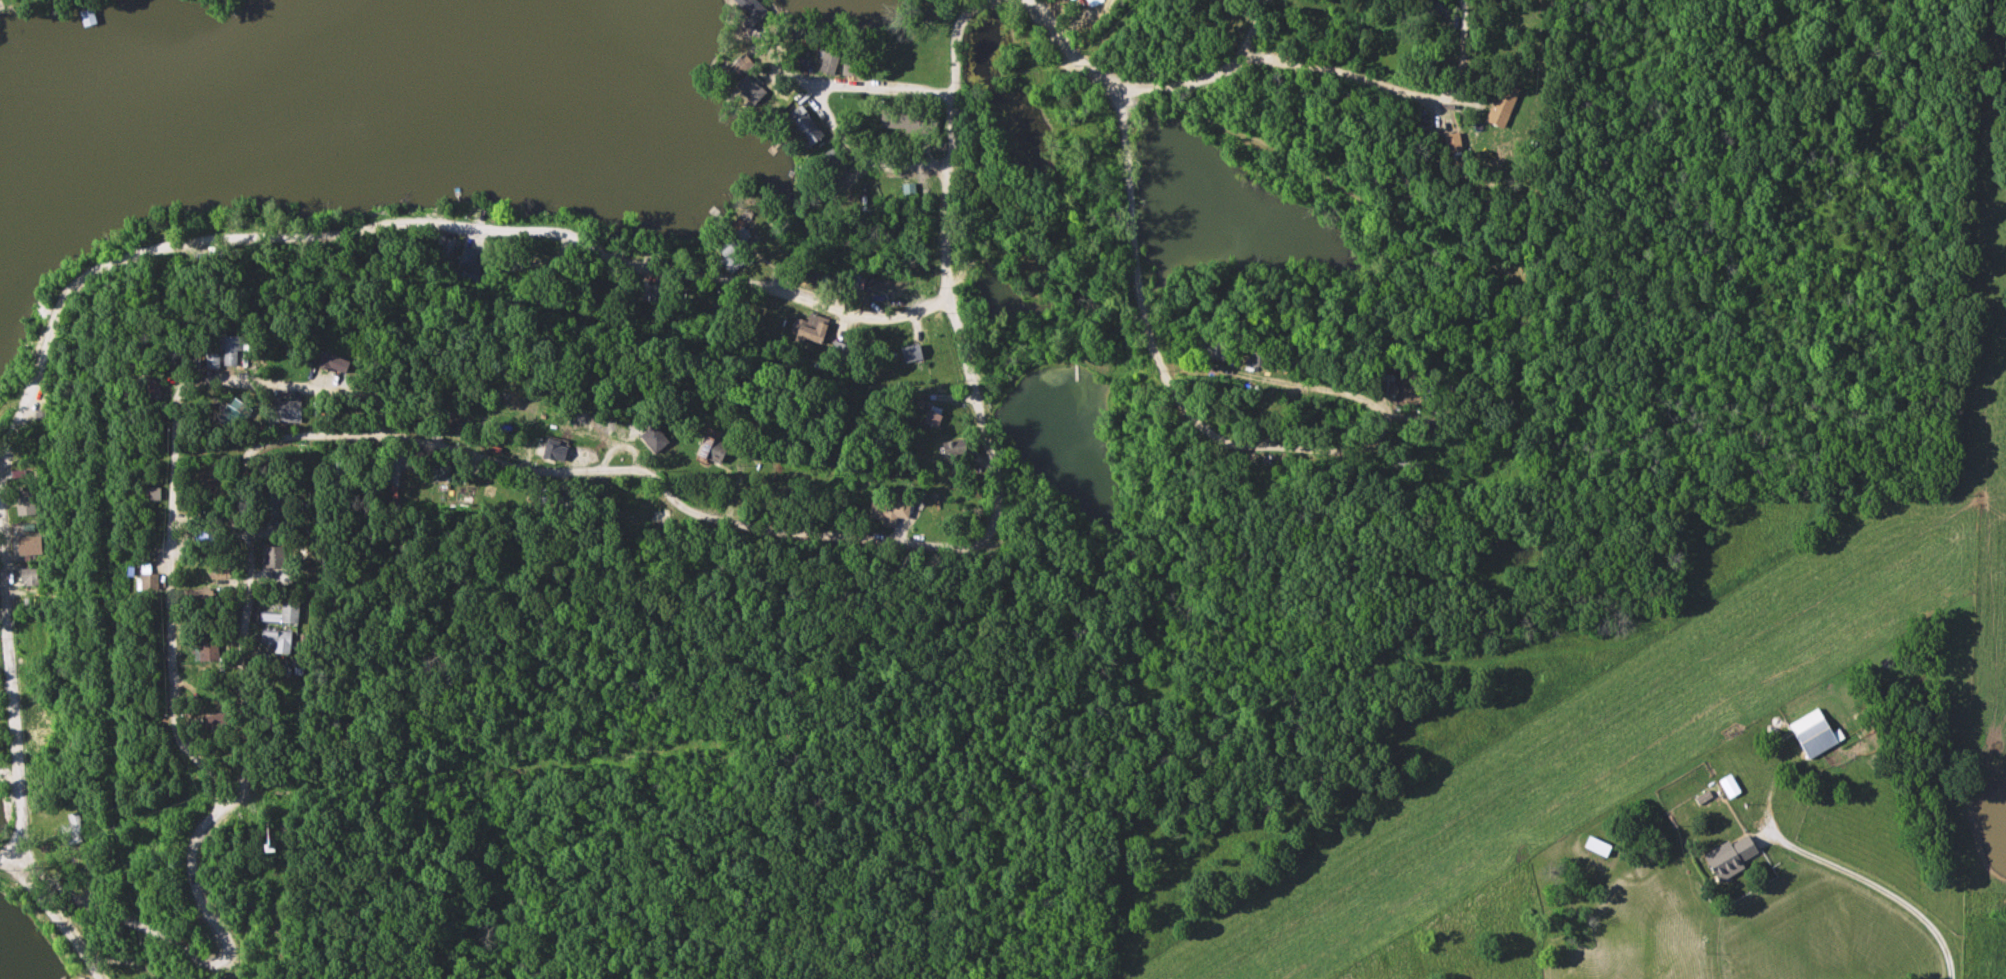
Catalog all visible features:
building: (1094, 0)
building: (1498, 0)
building: (753, 7)
building: (1432, 7)
building: (89, 18)
road: (1262, 30)
road: (1467, 51)
building: (831, 60)
road: (1288, 63)
building: (855, 64)
building: (741, 67)
road: (858, 87)
building: (753, 90)
building: (1505, 105)
building: (910, 121)
building: (808, 127)
road: (867, 160)
building: (832, 168)
road: (1137, 194)
road: (553, 232)
road: (306, 240)
road: (947, 254)
building: (215, 255)
road: (755, 285)
building: (651, 293)
building: (815, 333)
building: (938, 348)
building: (1213, 349)
building: (237, 350)
building: (914, 353)
building: (841, 354)
building: (1261, 359)
building: (215, 362)
building: (336, 365)
road: (1202, 370)
road: (1272, 380)
building: (153, 389)
road: (425, 401)
building: (286, 413)
building: (428, 418)
building: (936, 419)
building: (463, 429)
building: (657, 439)
building: (500, 440)
road: (449, 449)
building: (558, 450)
road: (1340, 450)
building: (716, 451)
building: (751, 451)
building: (579, 499)
building: (28, 504)
building: (271, 504)
building: (893, 511)
building: (207, 539)
building: (32, 546)
building: (275, 557)
road: (9, 561)
building: (222, 571)
building: (31, 577)
building: (153, 583)
road: (171, 602)
building: (292, 612)
building: (280, 641)
building: (209, 651)
building: (218, 720)
building: (1812, 733)
building: (72, 827)
building: (1600, 846)
road: (13, 857)
building: (1727, 857)
road: (1882, 888)
road: (52, 921)
road: (197, 955)

